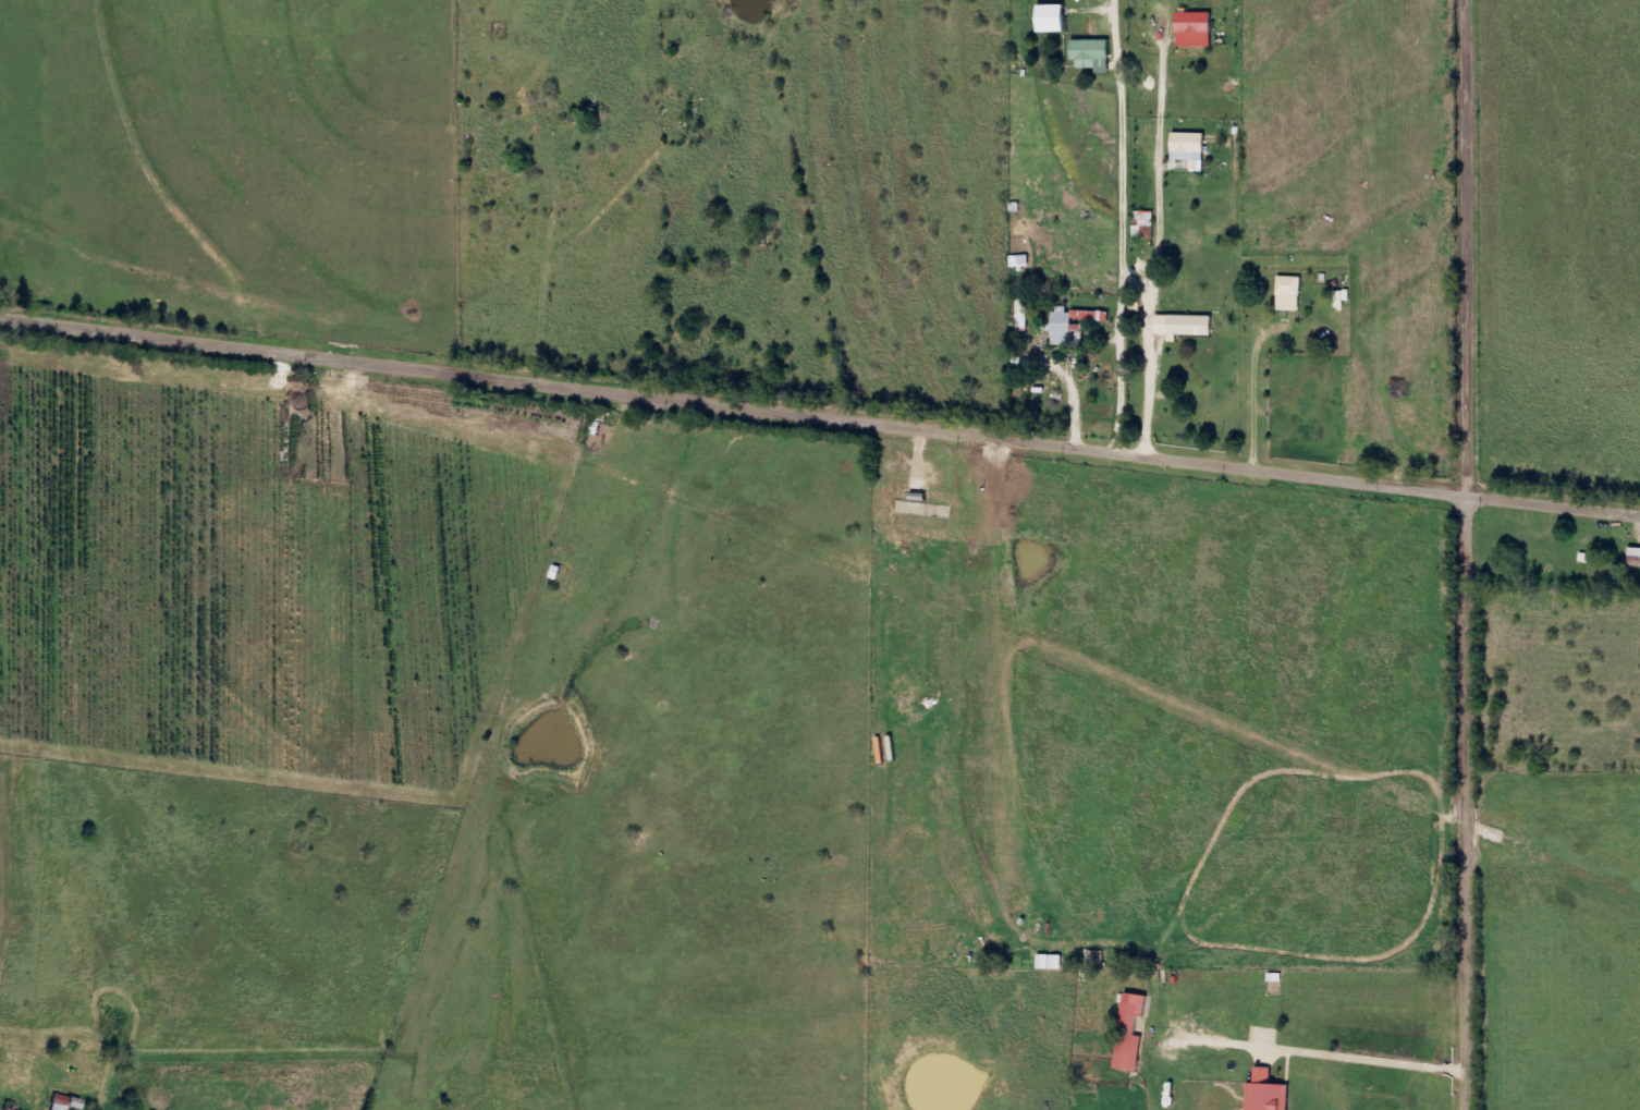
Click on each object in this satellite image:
building: (1056, 20)
building: (1198, 31)
building: (1096, 56)
building: (1192, 147)
building: (1147, 225)
road: (1466, 253)
building: (1293, 294)
building: (1027, 315)
building: (1075, 326)
building: (1188, 327)
road: (820, 428)
building: (1637, 558)
road: (1466, 807)
building: (1135, 936)
building: (1135, 1033)
building: (1271, 1093)
building: (68, 1102)

